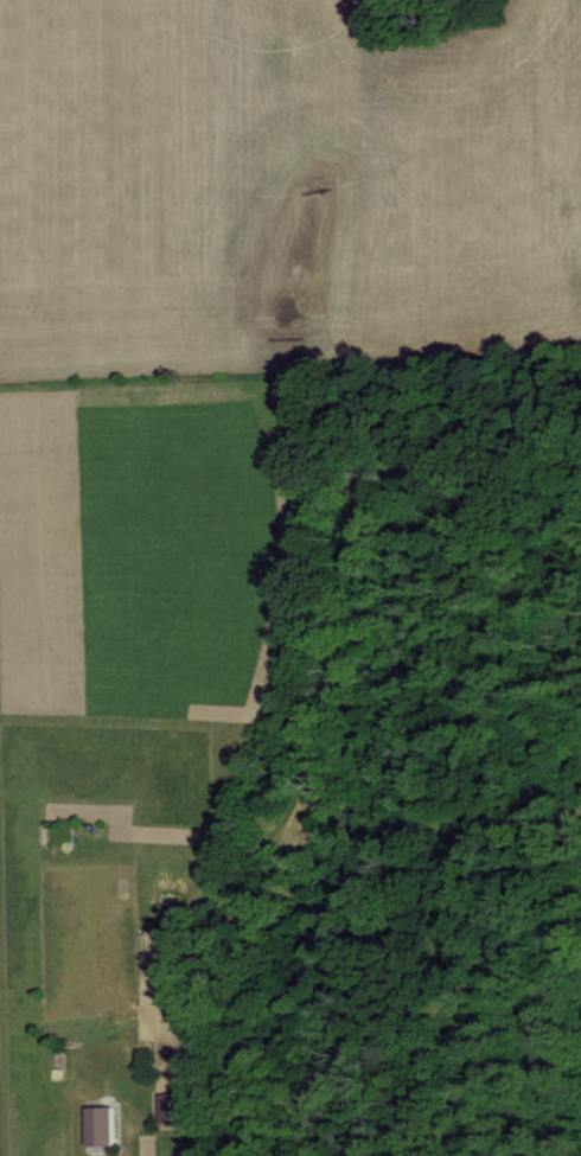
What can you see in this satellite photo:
building: (98, 1124)

